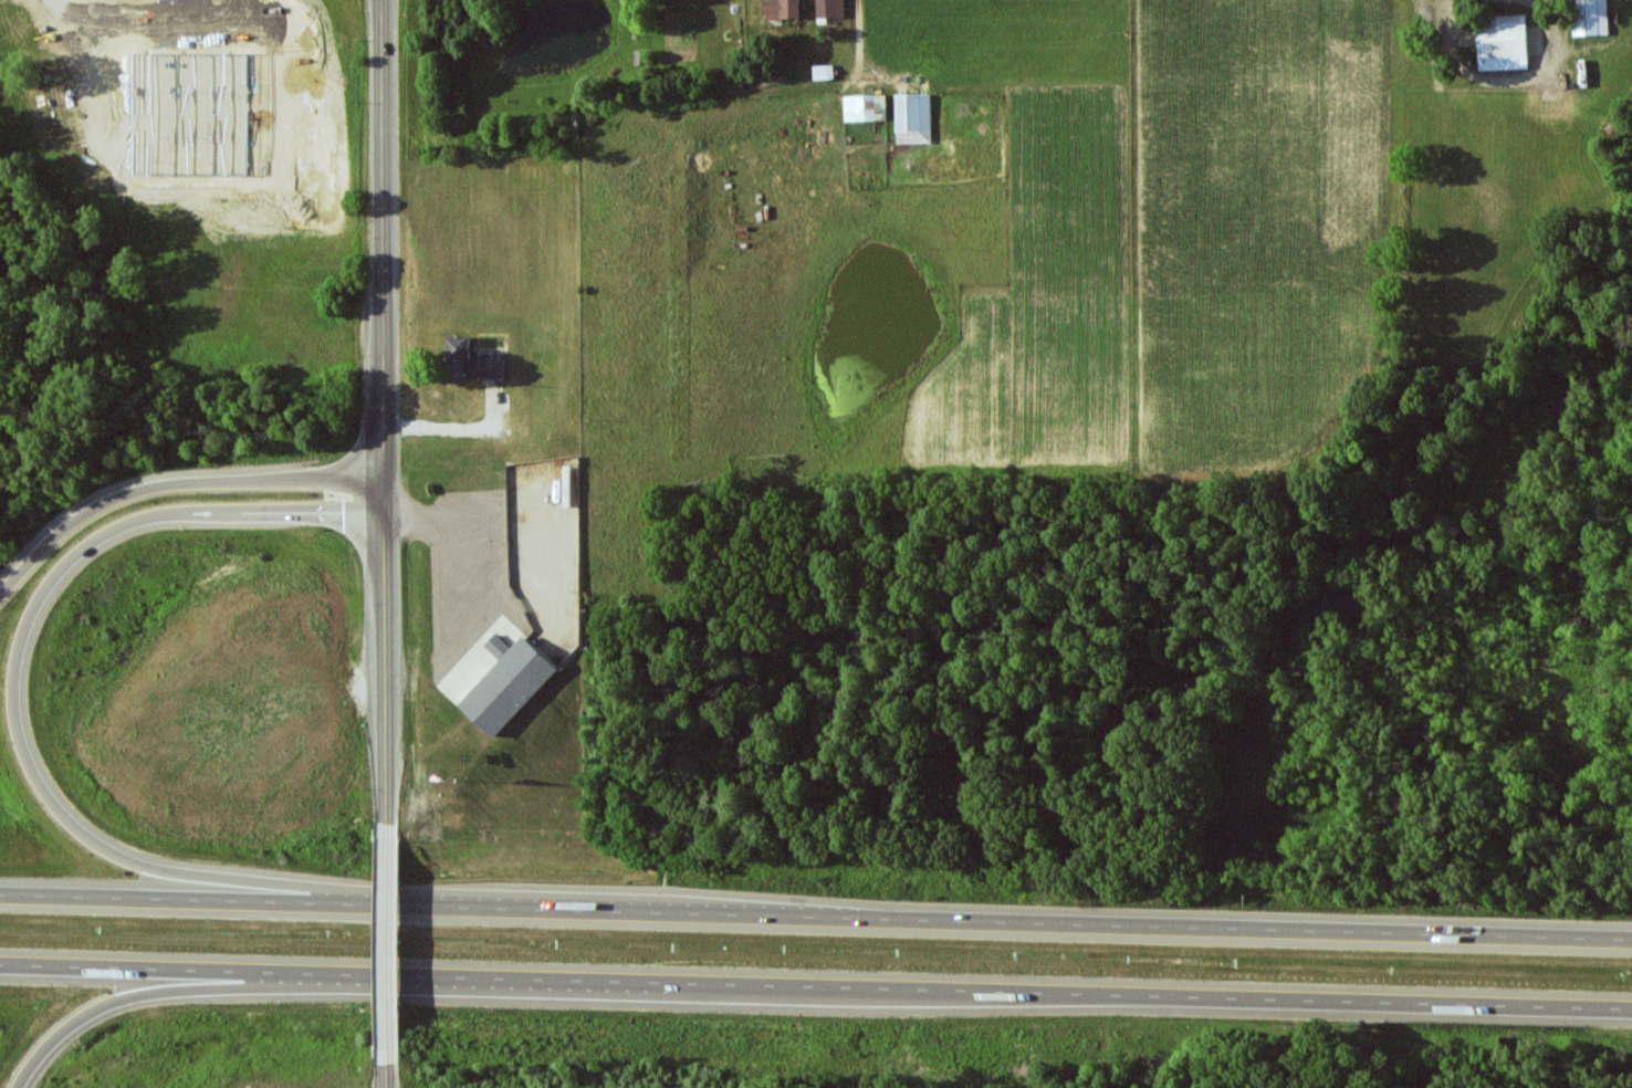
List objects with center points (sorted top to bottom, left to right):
building: (830, 8)
building: (782, 9)
building: (1592, 19)
building: (1504, 43)
building: (865, 107)
building: (913, 118)
building: (473, 362)
road: (386, 422)
road: (175, 485)
building: (509, 684)
road: (24, 749)
road: (815, 917)
road: (391, 946)
road: (815, 987)
road: (126, 992)
road: (393, 1068)

